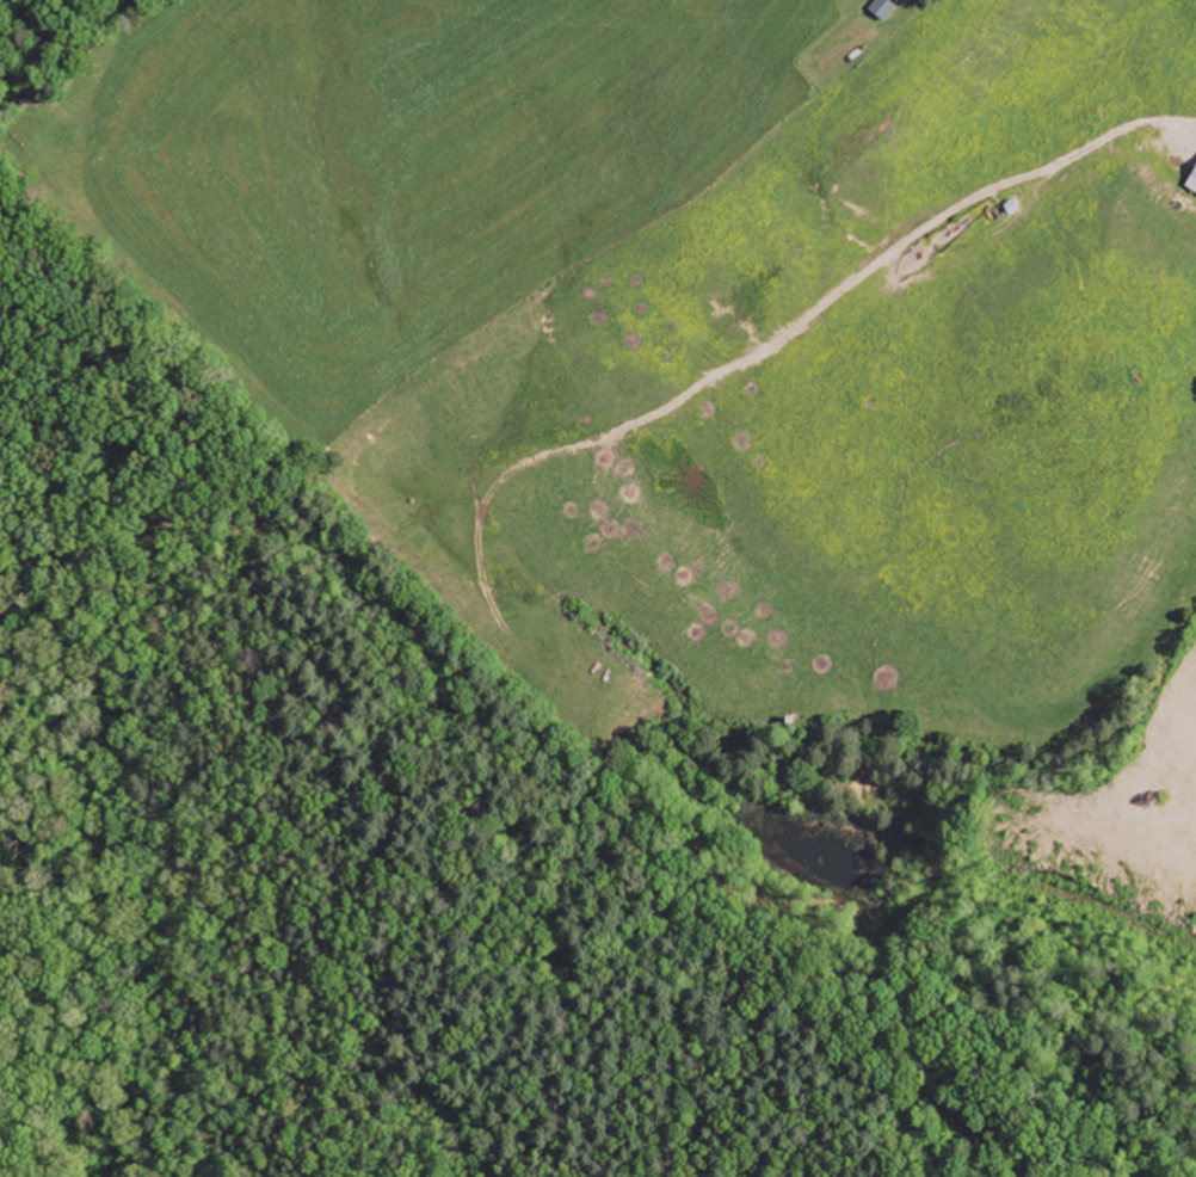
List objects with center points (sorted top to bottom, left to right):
building: (883, 10)
building: (1192, 184)

